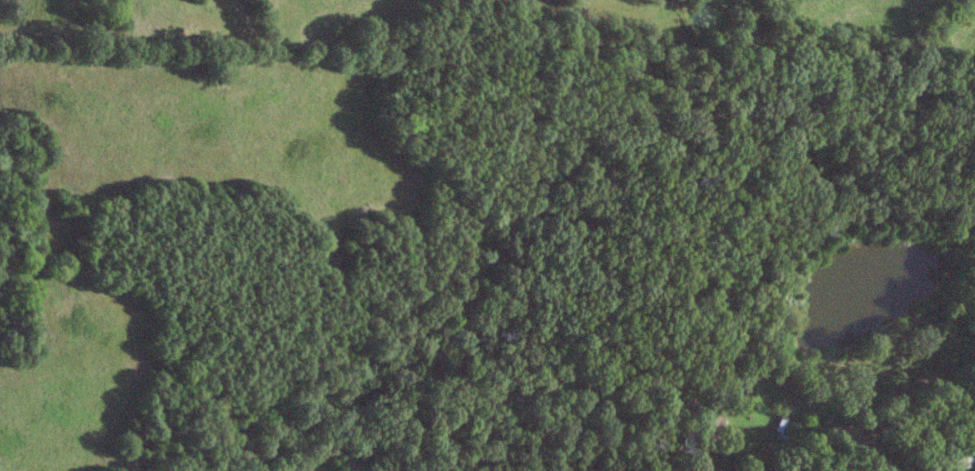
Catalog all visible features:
road: (965, 461)

